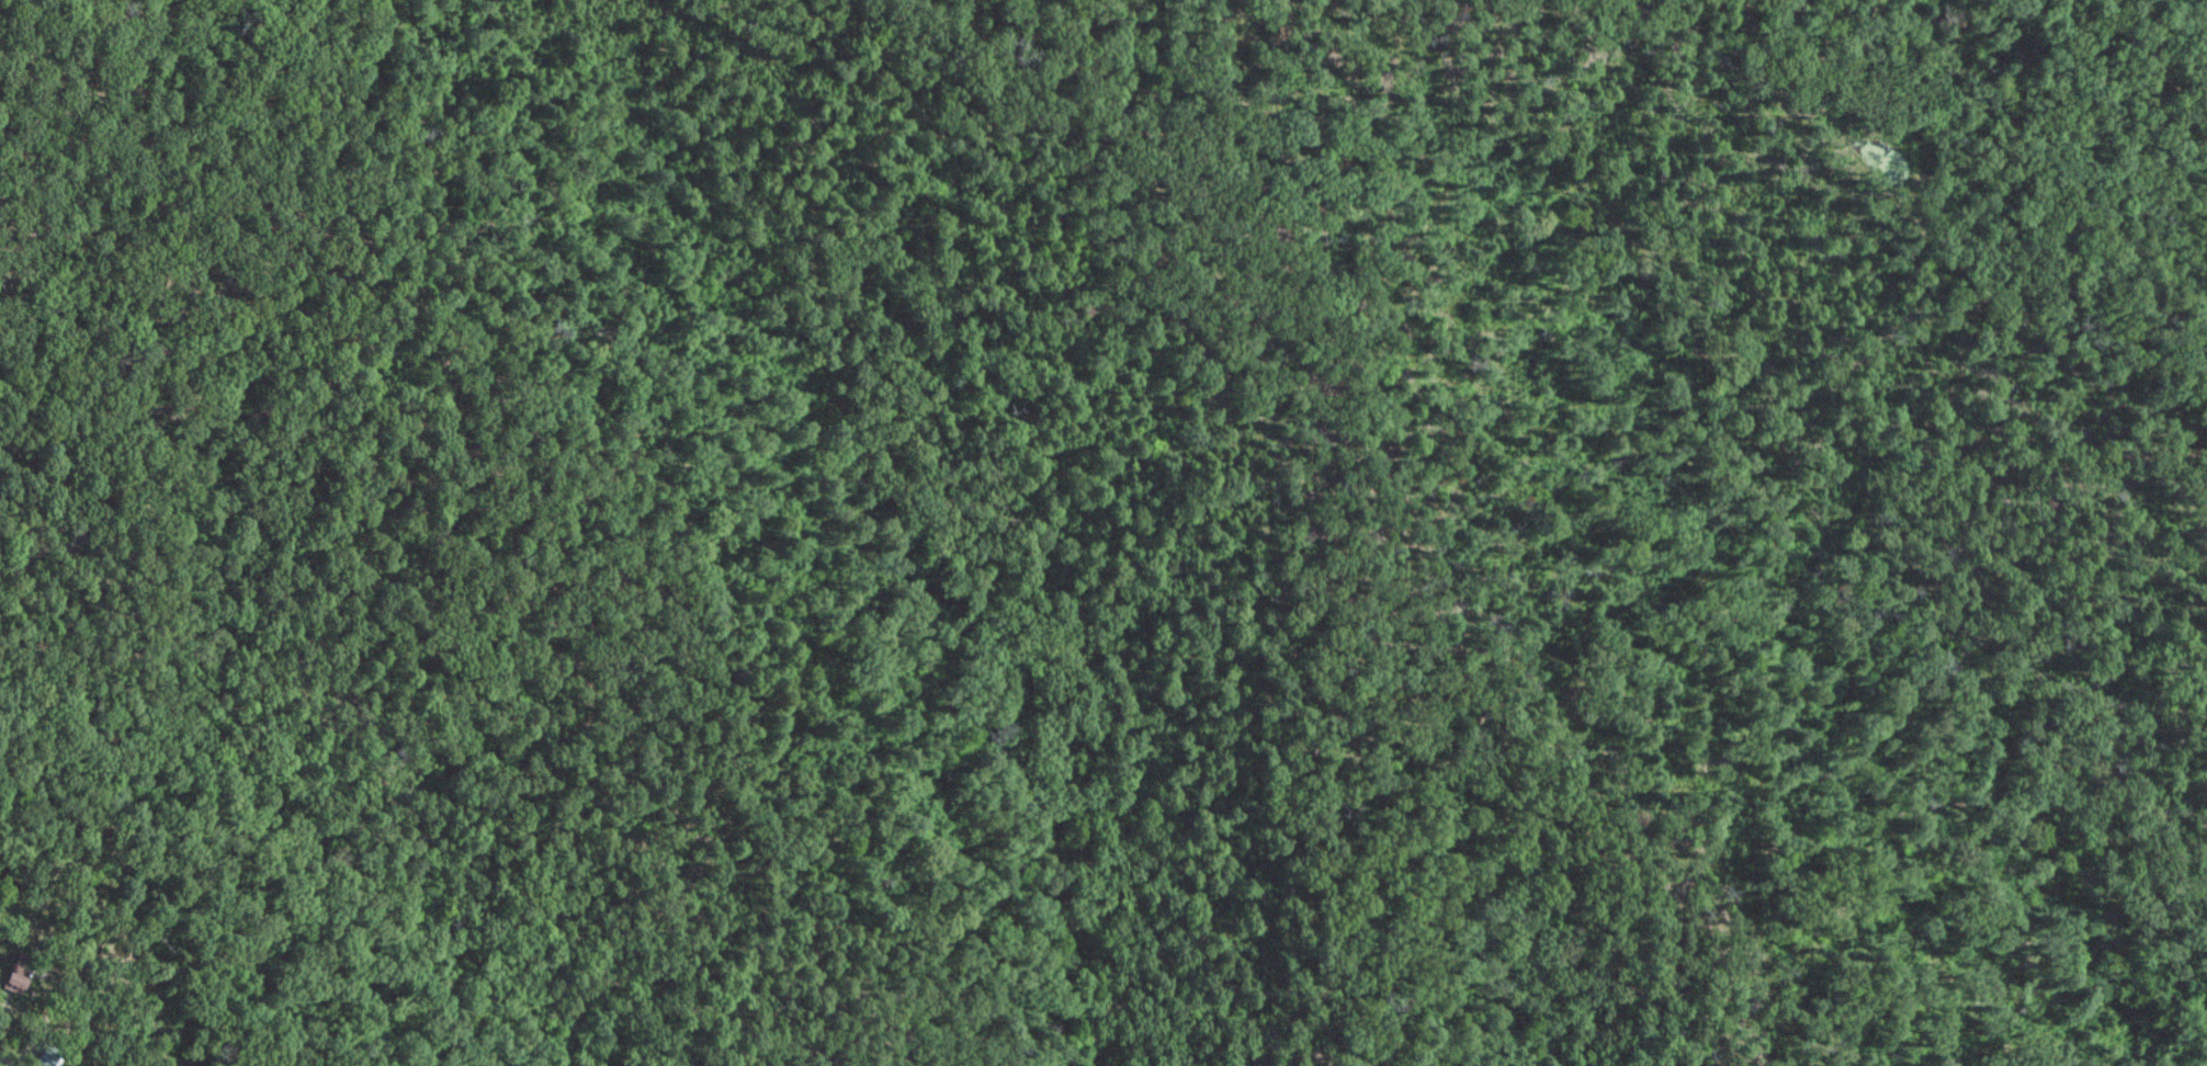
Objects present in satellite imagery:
road: (72, 950)
building: (14, 977)

